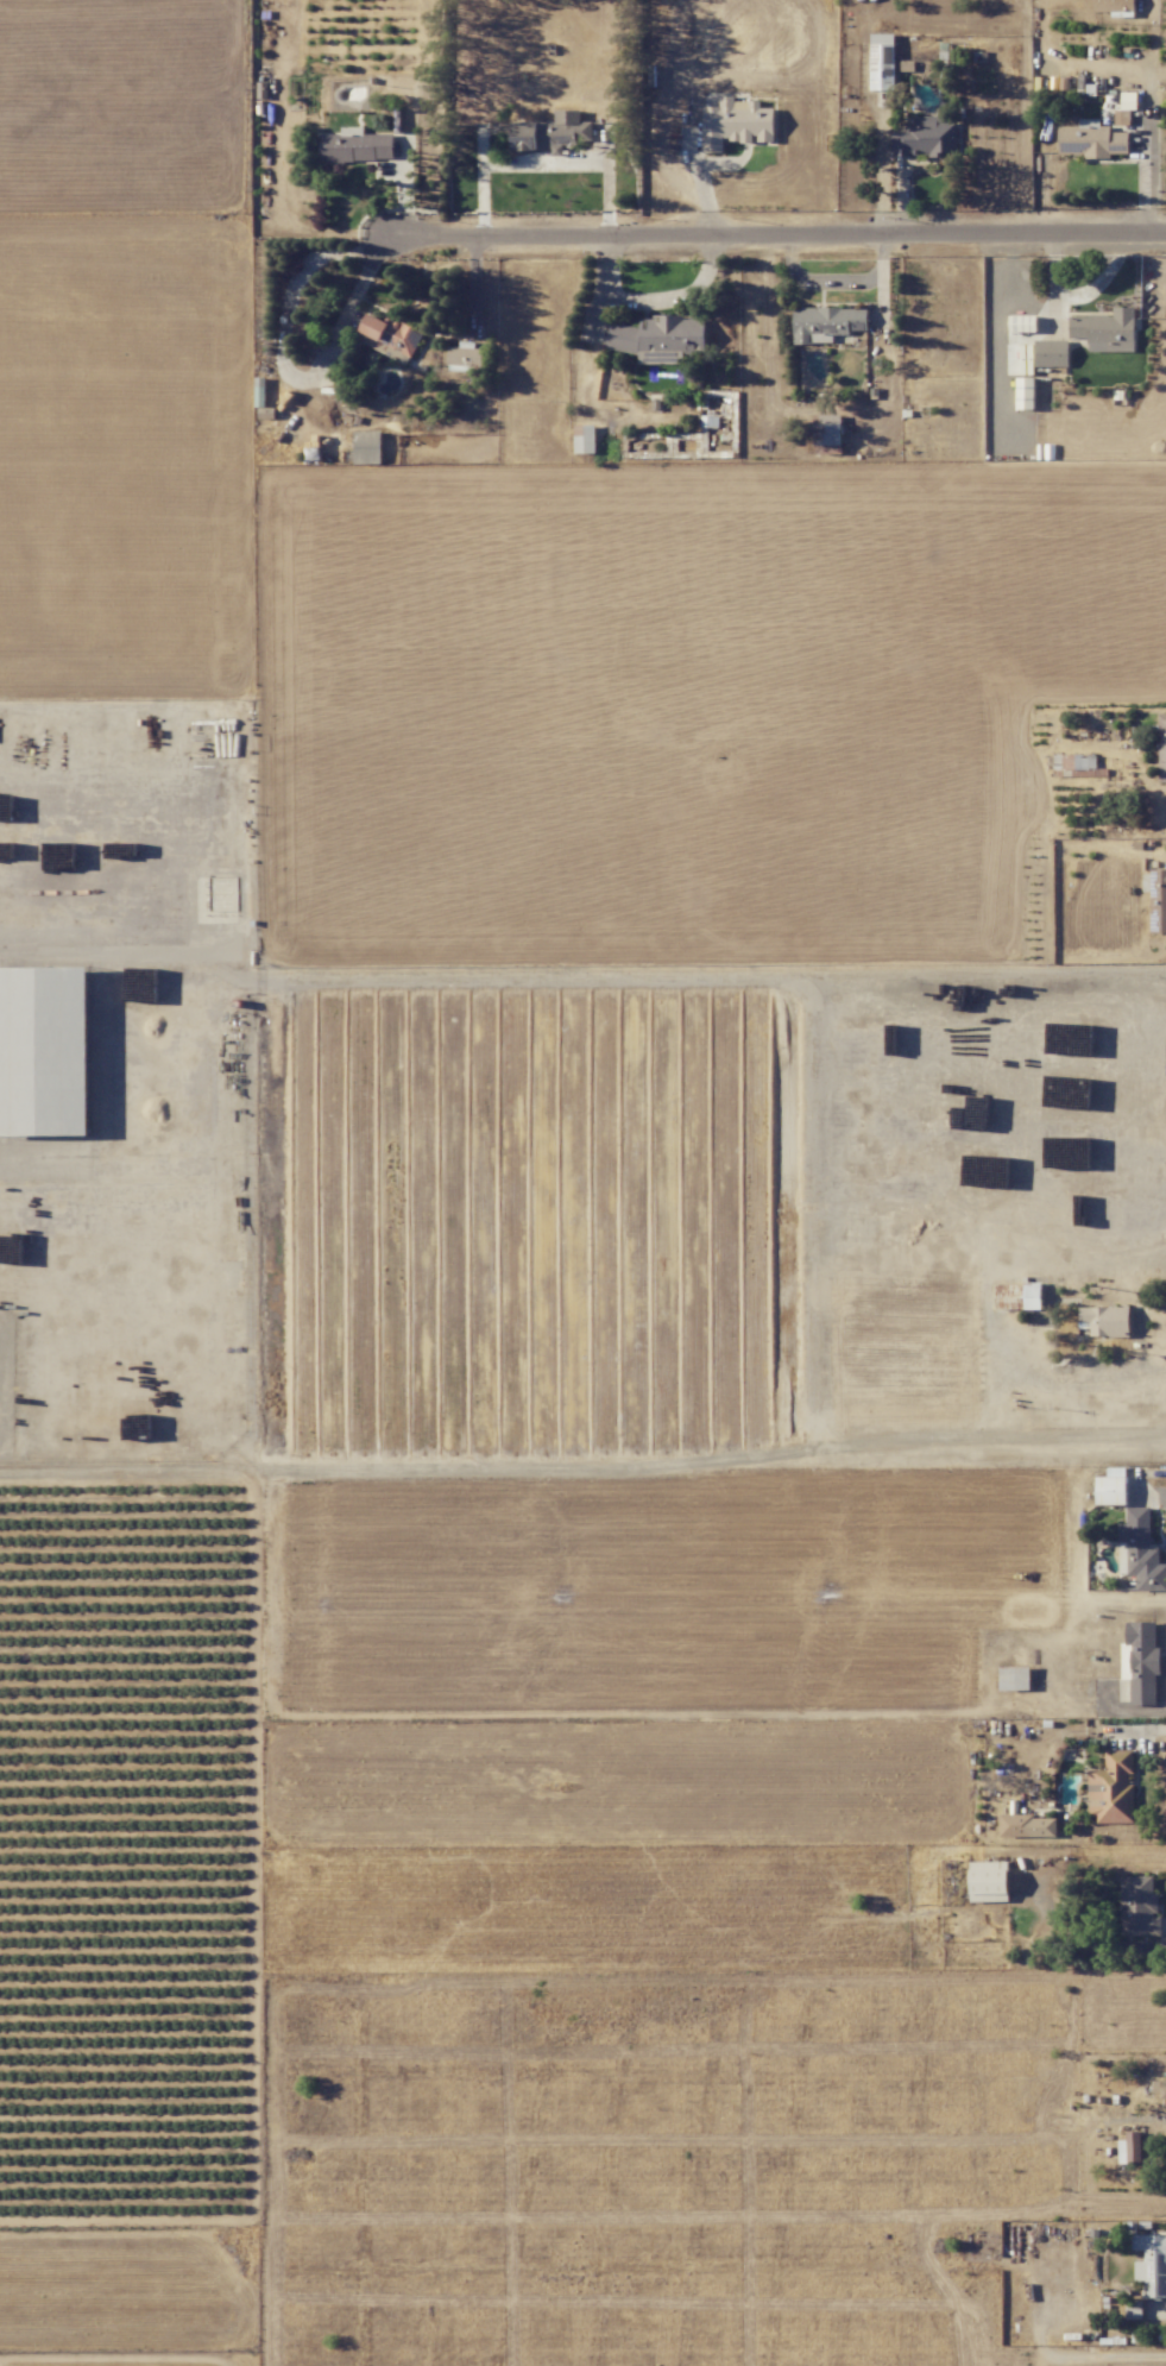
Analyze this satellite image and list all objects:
building: (1113, 6)
building: (882, 62)
building: (1124, 108)
building: (736, 124)
building: (552, 133)
building: (926, 138)
building: (1090, 139)
building: (355, 146)
road: (544, 163)
road: (777, 241)
road: (650, 301)
building: (1022, 323)
building: (827, 325)
building: (1105, 329)
building: (391, 333)
building: (658, 338)
building: (1051, 353)
building: (464, 358)
building: (1025, 392)
building: (827, 434)
building: (585, 439)
building: (367, 447)
building: (1160, 744)
building: (1155, 898)
building: (44, 1051)
building: (1017, 1296)
building: (1107, 1320)
building: (1111, 1486)
road: (1153, 1496)
building: (1141, 1550)
building: (1140, 1661)
road: (1048, 1662)
building: (1014, 1678)
road: (1146, 1730)
building: (1113, 1788)
building: (1028, 1826)
building: (989, 1881)
building: (1139, 1907)
building: (1159, 2088)
building: (1129, 2147)
building: (1151, 2264)
building: (1133, 2310)

